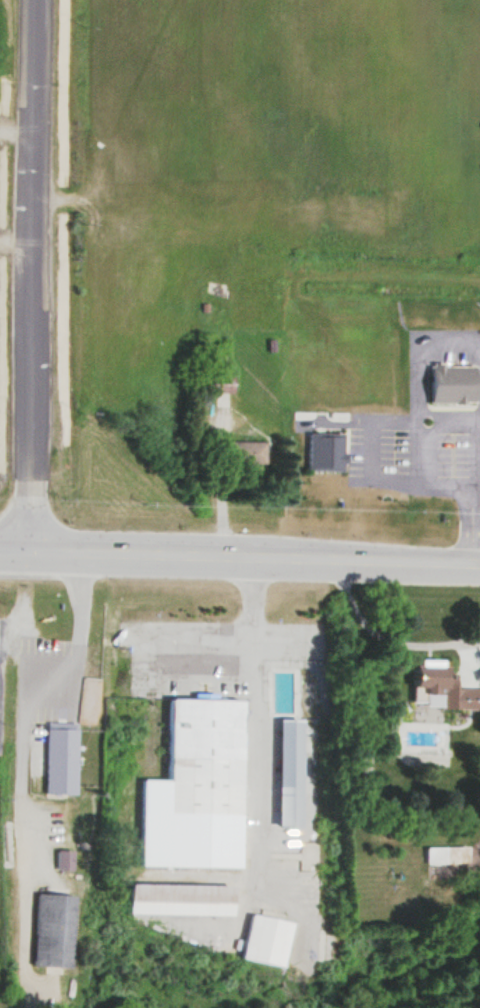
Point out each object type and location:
road: (31, 274)
building: (453, 384)
building: (246, 453)
road: (14, 547)
road: (166, 551)
road: (391, 557)
building: (431, 678)
building: (205, 754)
building: (61, 760)
building: (289, 771)
building: (445, 854)
building: (182, 898)
building: (54, 929)
building: (266, 938)

